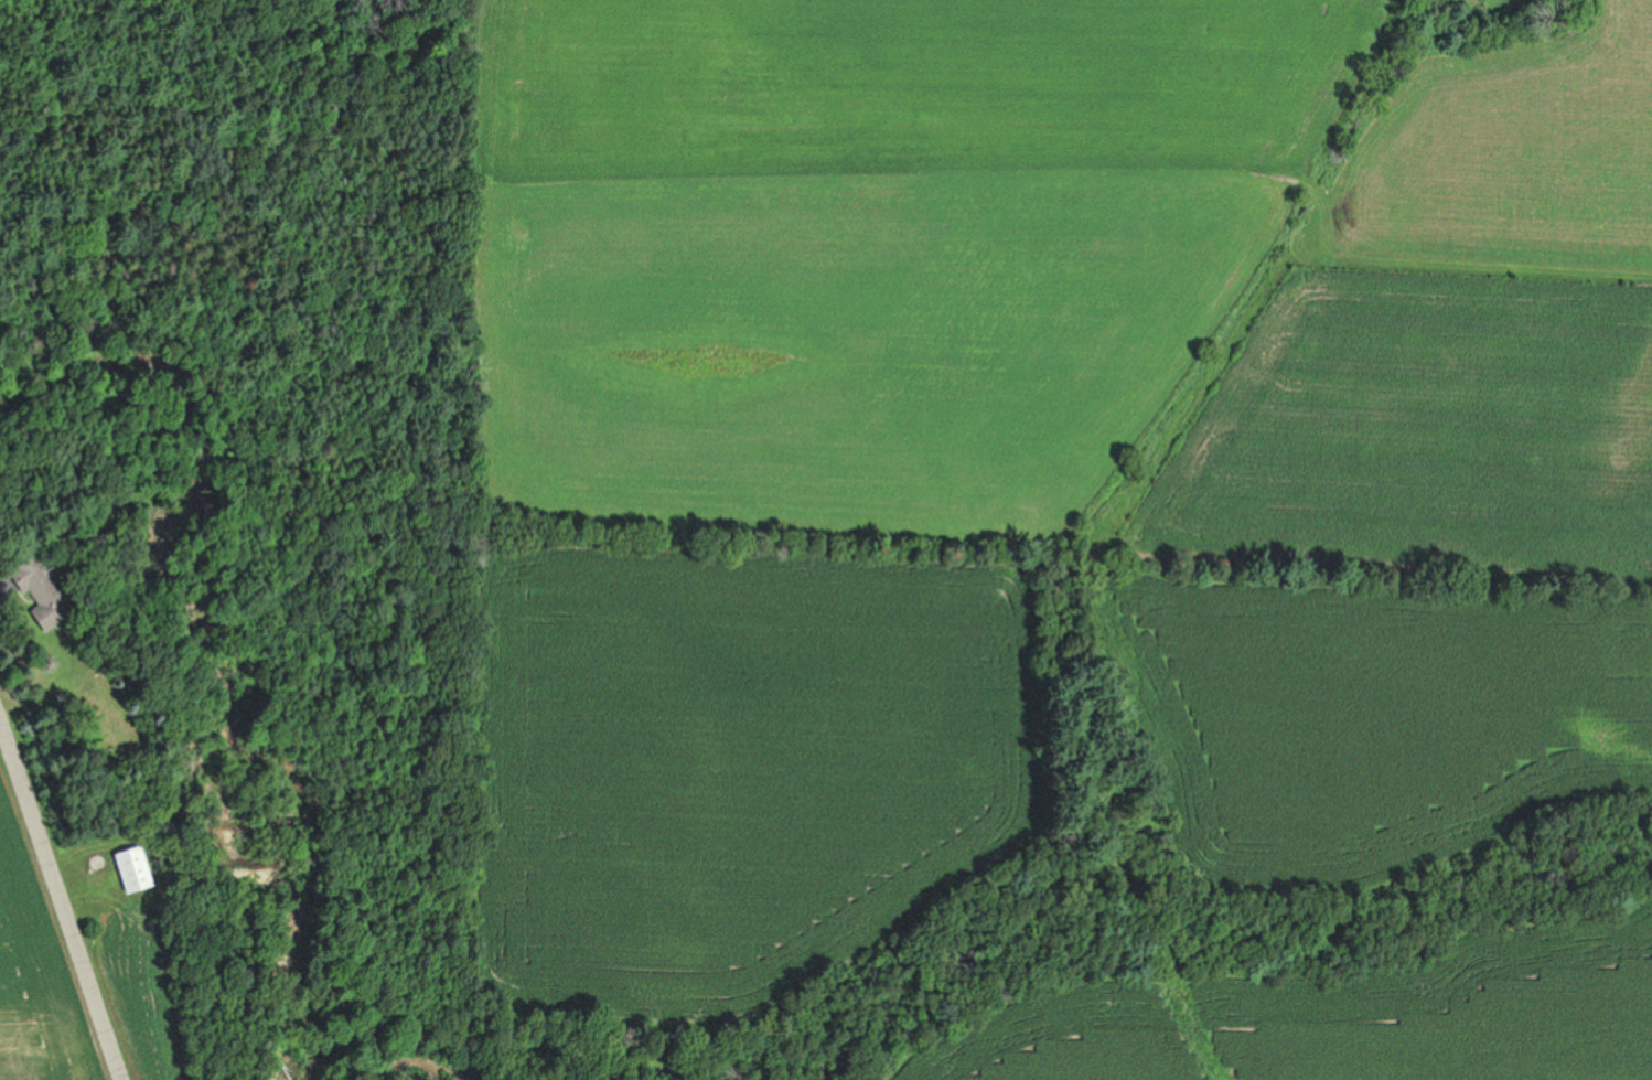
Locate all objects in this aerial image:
building: (31, 592)
building: (126, 869)
road: (61, 901)

